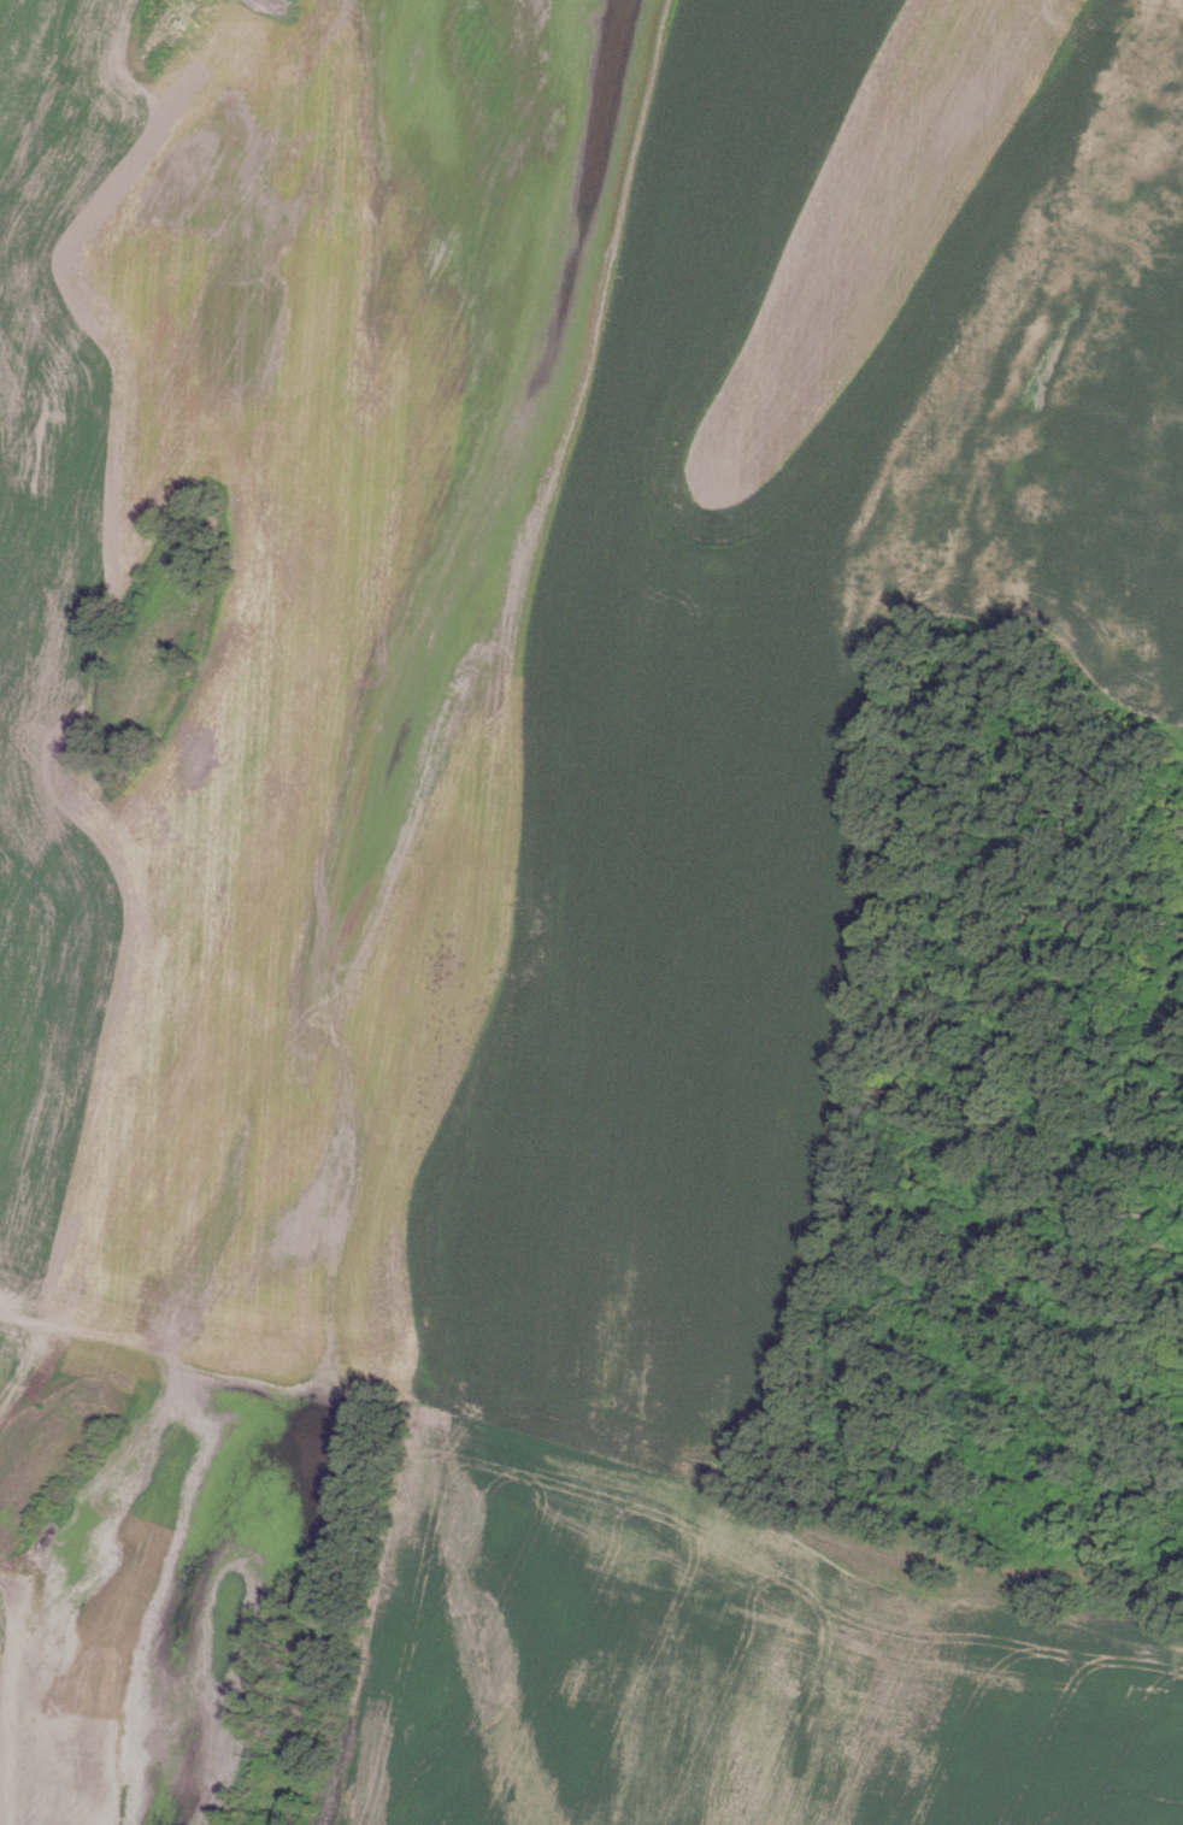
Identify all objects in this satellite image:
crop: (520, 866)
road: (17, 1362)

